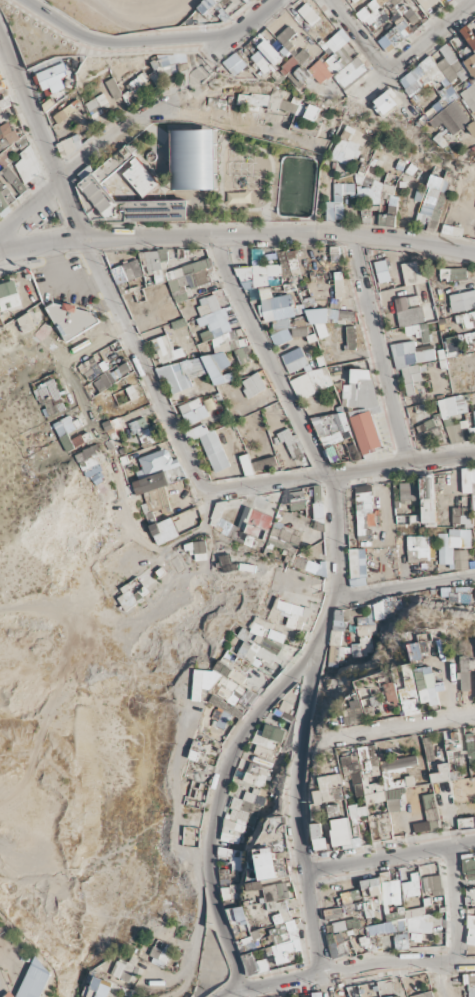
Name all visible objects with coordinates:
park: (131, 12)
road: (150, 40)
road: (426, 246)

